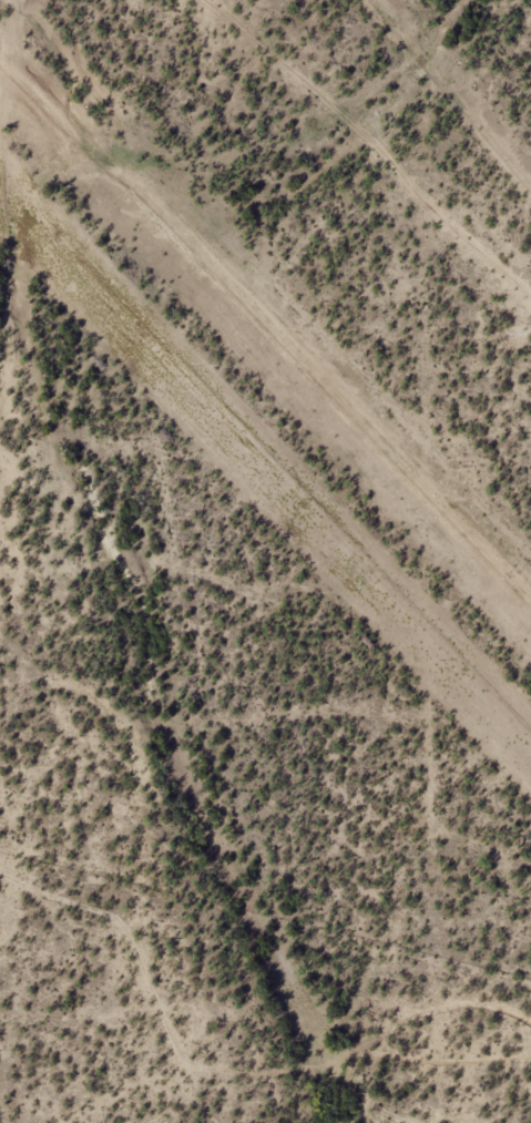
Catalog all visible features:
road: (24, 101)
road: (274, 275)

